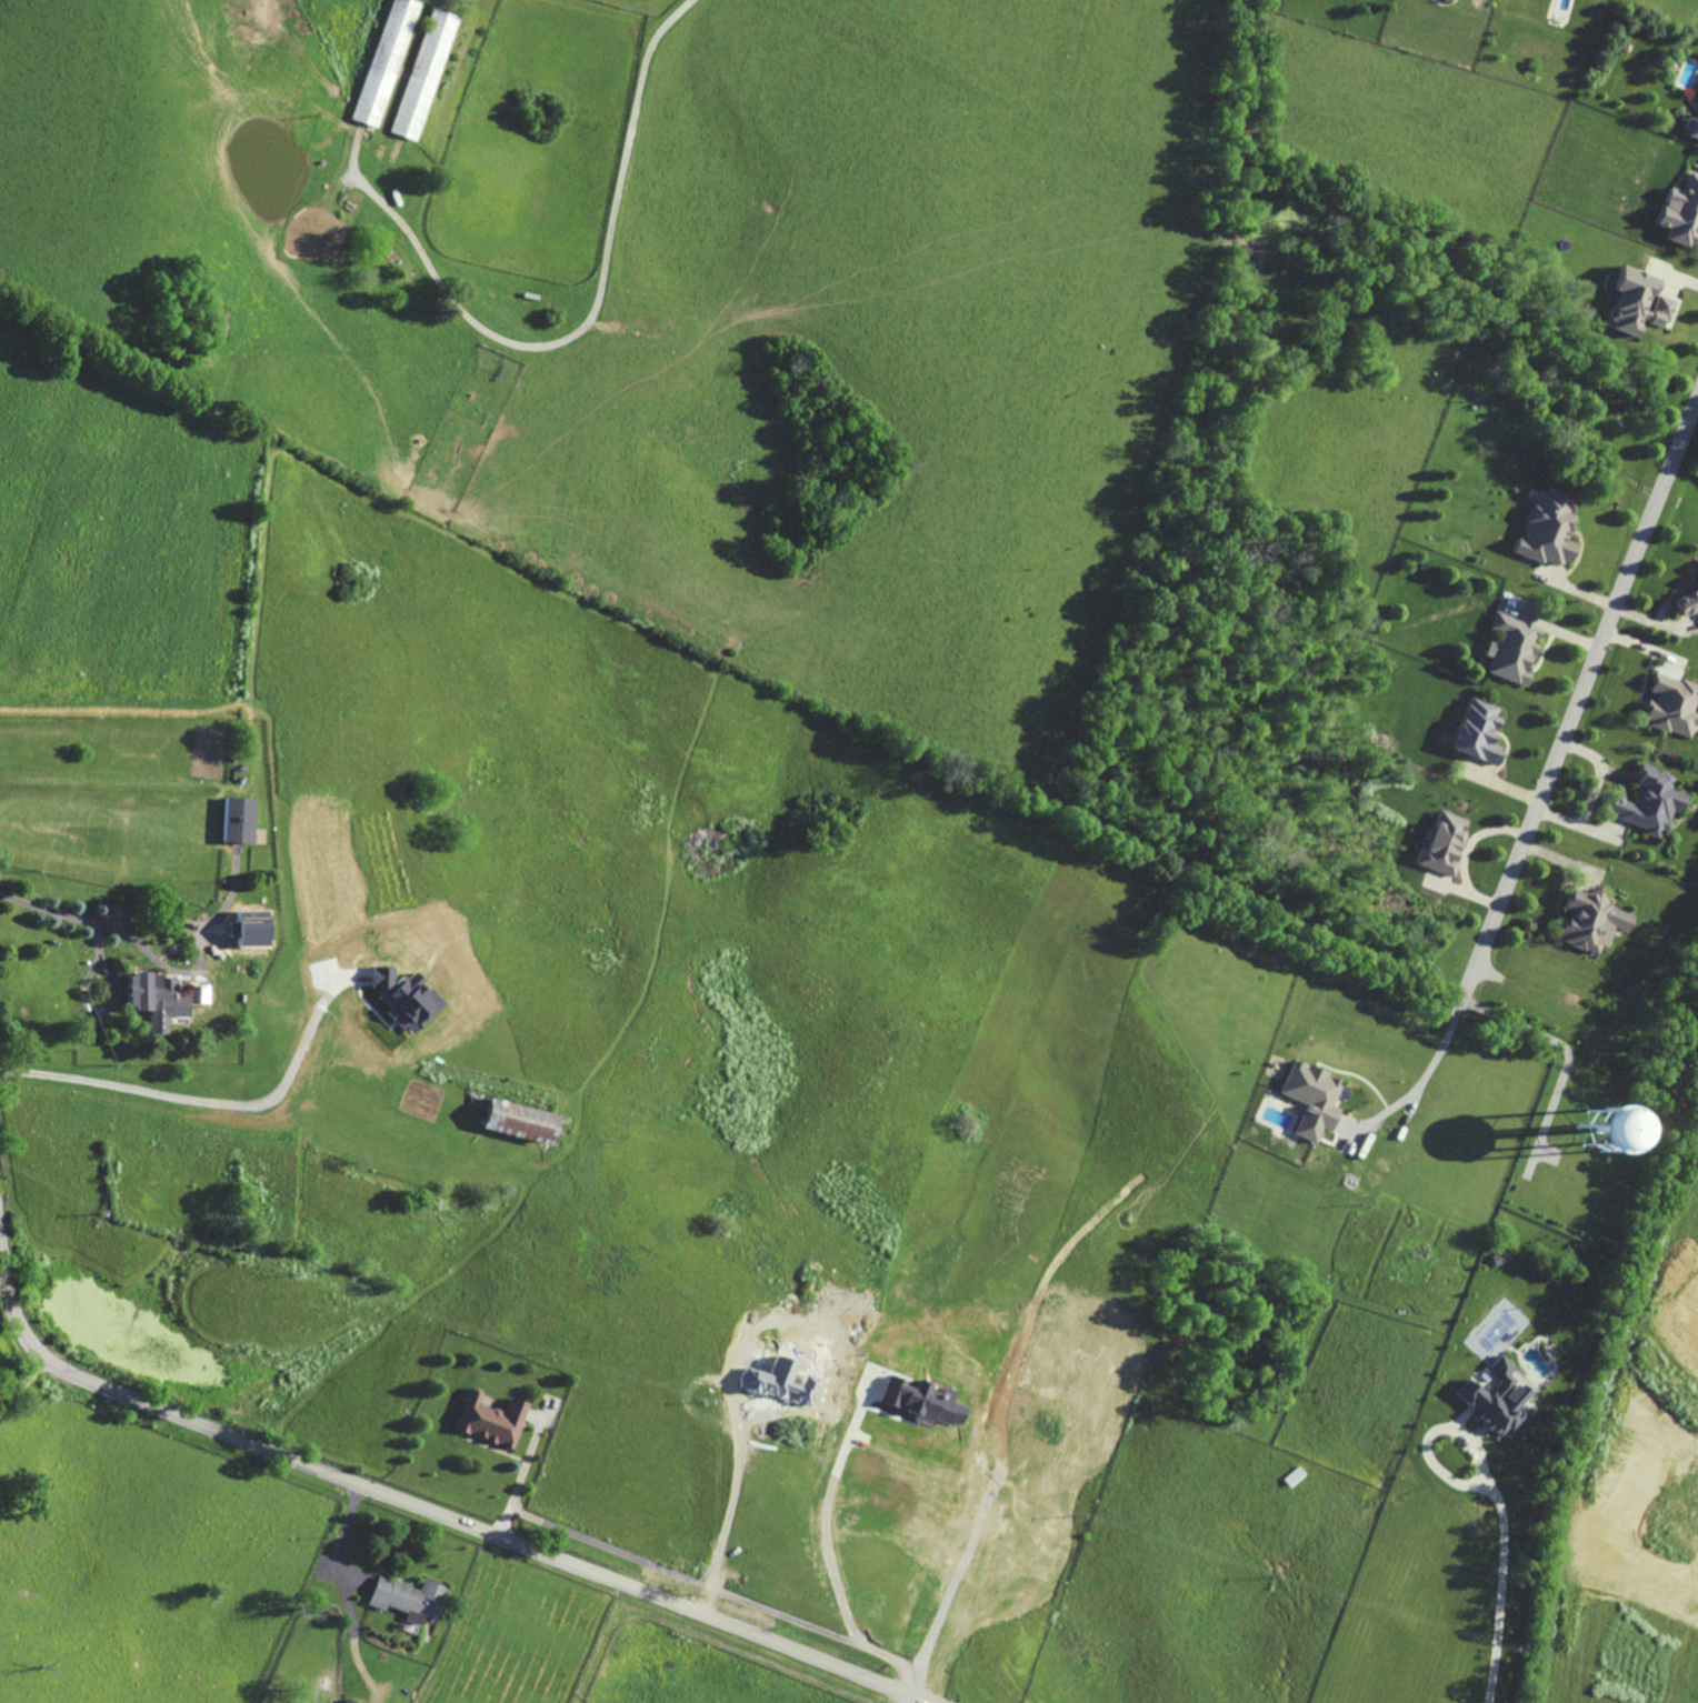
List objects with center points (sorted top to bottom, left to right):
building: (1697, 101)
building: (1690, 128)
building: (1681, 212)
park: (314, 240)
building: (1637, 301)
road: (586, 325)
building: (1549, 528)
building: (1688, 603)
road: (1579, 695)
building: (1672, 704)
building: (1478, 732)
road: (1592, 795)
building: (1649, 801)
building: (233, 822)
building: (1441, 843)
road: (77, 915)
building: (1591, 920)
building: (159, 999)
building: (404, 999)
road: (1424, 1072)
road: (198, 1100)
building: (512, 1121)
water tower: (1600, 1133)
road: (22, 1383)
building: (919, 1401)
building: (489, 1420)
road: (521, 1475)
road: (731, 1501)
road: (423, 1509)
road: (341, 1539)
road: (823, 1549)
road: (1501, 1563)
building: (406, 1600)
road: (915, 1700)
building: (347, 1702)

